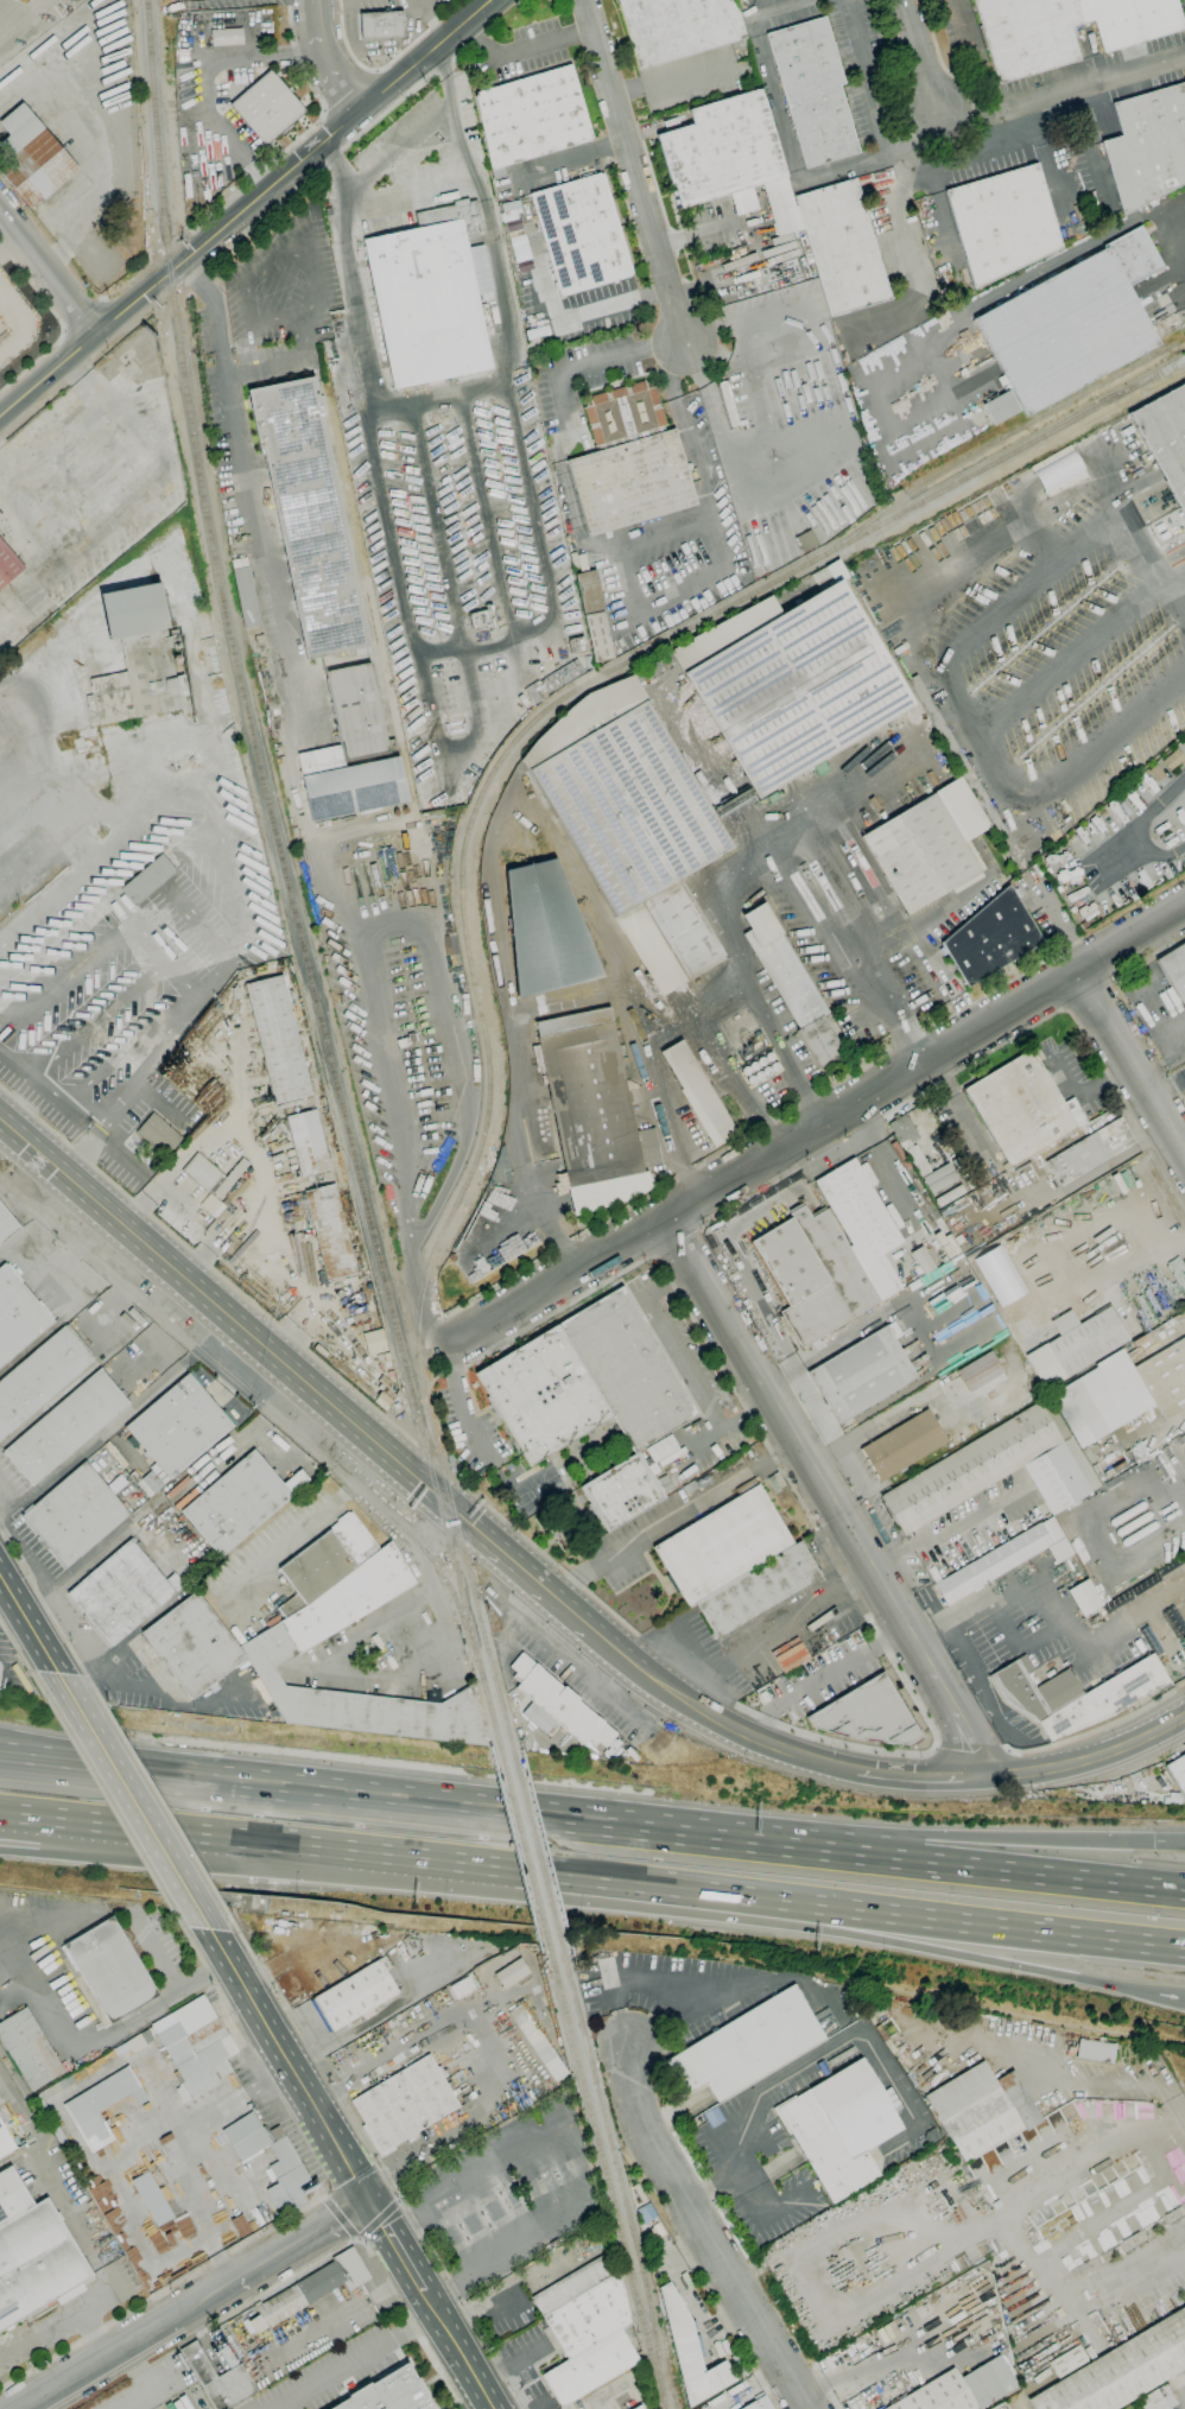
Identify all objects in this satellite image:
road: (760, 5)
road: (316, 17)
building: (381, 24)
building: (677, 27)
building: (1065, 28)
building: (227, 37)
road: (524, 51)
road: (918, 57)
road: (387, 63)
road: (336, 72)
road: (868, 74)
road: (207, 77)
road: (672, 77)
building: (812, 90)
road: (1062, 97)
road: (392, 107)
building: (267, 108)
building: (532, 116)
road: (786, 138)
road: (940, 140)
road: (399, 145)
road: (289, 146)
building: (1147, 146)
building: (722, 150)
building: (32, 157)
road: (332, 158)
road: (570, 158)
road: (963, 160)
road: (634, 169)
flagpole: (381, 183)
flagpole: (391, 183)
flagpole: (375, 186)
road: (406, 196)
road: (245, 209)
road: (484, 210)
road: (620, 222)
building: (1002, 222)
road: (254, 223)
building: (581, 234)
road: (894, 239)
road: (11, 245)
building: (841, 247)
road: (264, 270)
road: (47, 271)
road: (348, 274)
road: (1027, 283)
building: (430, 297)
road: (211, 300)
road: (731, 318)
road: (560, 319)
road: (59, 323)
building: (1072, 323)
road: (704, 329)
road: (747, 338)
road: (696, 342)
road: (591, 359)
road: (289, 363)
road: (439, 397)
road: (760, 398)
building: (728, 405)
building: (1000, 407)
road: (683, 426)
road: (80, 437)
building: (1166, 437)
road: (723, 443)
railway: (990, 443)
road: (563, 449)
building: (628, 463)
building: (1057, 470)
road: (530, 502)
building: (308, 515)
road: (486, 516)
road: (572, 518)
road: (438, 526)
road: (267, 533)
road: (389, 534)
building: (806, 540)
road: (1142, 551)
building: (8, 564)
road: (1179, 583)
building: (246, 594)
road: (1179, 595)
road: (625, 601)
building: (594, 615)
building: (723, 630)
road: (557, 641)
road: (486, 645)
building: (144, 647)
road: (1069, 659)
road: (474, 689)
building: (797, 689)
road: (968, 724)
building: (351, 753)
road: (455, 754)
building: (957, 756)
building: (1173, 760)
building: (1157, 773)
building: (632, 824)
road: (1117, 847)
building: (920, 854)
railway: (462, 866)
road: (798, 876)
building: (147, 880)
railway: (285, 880)
road: (404, 906)
road: (1054, 924)
building: (545, 931)
building: (991, 938)
road: (925, 944)
building: (1174, 969)
building: (791, 984)
road: (592, 990)
road: (1079, 1029)
building: (110, 1040)
building: (278, 1040)
road: (1180, 1041)
road: (910, 1044)
road: (1132, 1058)
road: (731, 1079)
road: (1168, 1083)
road: (1091, 1084)
road: (1174, 1090)
building: (701, 1091)
building: (588, 1096)
road: (665, 1109)
building: (1022, 1109)
road: (817, 1123)
building: (902, 1129)
road: (759, 1130)
road: (97, 1131)
building: (159, 1135)
building: (308, 1142)
road: (845, 1142)
building: (647, 1147)
building: (1090, 1152)
building: (918, 1161)
building: (202, 1173)
road: (891, 1175)
building: (982, 1175)
road: (154, 1191)
road: (1135, 1192)
building: (213, 1210)
building: (862, 1223)
building: (6, 1225)
building: (330, 1232)
road: (208, 1264)
building: (813, 1274)
road: (417, 1304)
building: (17, 1316)
road: (771, 1326)
road: (860, 1326)
road: (245, 1330)
building: (373, 1342)
building: (1075, 1345)
parking lot: (692, 1356)
building: (980, 1371)
road: (778, 1374)
building: (862, 1375)
building: (39, 1377)
building: (1165, 1378)
building: (587, 1381)
building: (1101, 1399)
road: (460, 1403)
road: (905, 1405)
railway: (266, 1409)
building: (178, 1426)
building: (65, 1427)
parking lot: (469, 1428)
building: (902, 1445)
building: (663, 1450)
building: (996, 1470)
road: (793, 1490)
park: (538, 1491)
building: (622, 1492)
road: (829, 1494)
building: (240, 1502)
building: (75, 1515)
road: (677, 1517)
road: (938, 1530)
building: (354, 1539)
road: (526, 1540)
building: (722, 1546)
road: (19, 1558)
building: (999, 1560)
building: (317, 1567)
building: (122, 1592)
building: (760, 1592)
building: (1083, 1597)
road: (978, 1604)
building: (291, 1606)
road: (577, 1617)
road: (28, 1624)
building: (297, 1633)
road: (62, 1634)
building: (1184, 1638)
building: (192, 1646)
road: (14, 1647)
building: (0, 1668)
road: (824, 1675)
road: (152, 1690)
building: (1075, 1694)
building: (559, 1704)
building: (867, 1714)
road: (1097, 1729)
road: (1142, 1737)
road: (760, 1739)
road: (936, 1749)
road: (972, 1750)
road: (1043, 1769)
building: (1178, 1773)
road: (921, 1777)
road: (104, 1798)
road: (133, 1800)
road: (160, 1803)
road: (433, 1808)
road: (1008, 1837)
road: (258, 1843)
traffic signals: (1157, 1845)
road: (1171, 1845)
road: (45, 1849)
railway: (524, 1850)
railway: (537, 1851)
road: (1026, 1874)
road: (634, 1884)
road: (785, 1913)
road: (968, 1922)
road: (1002, 1963)
building: (110, 1970)
building: (512, 1973)
road: (170, 1978)
road: (632, 1983)
building: (462, 1988)
building: (356, 1995)
building: (139, 2041)
building: (539, 2042)
building: (195, 2046)
building: (748, 2046)
building: (30, 2048)
building: (1096, 2050)
road: (254, 2052)
road: (805, 2059)
road: (290, 2065)
road: (375, 2067)
road: (1047, 2077)
road: (243, 2091)
building: (102, 2104)
building: (404, 2104)
road: (1180, 2105)
building: (981, 2109)
road: (177, 2118)
road: (470, 2124)
building: (52, 2125)
building: (839, 2128)
building: (246, 2136)
building: (5, 2142)
parking lot: (759, 2155)
road: (576, 2162)
road: (380, 2170)
building: (286, 2173)
railway: (619, 2177)
railway: (607, 2179)
gas station: (508, 2192)
building: (151, 2198)
traffic signals: (372, 2201)
road: (197, 2206)
road: (762, 2213)
road: (1012, 2226)
road: (704, 2232)
road: (304, 2240)
road: (398, 2246)
building: (32, 2252)
road: (299, 2272)
road: (233, 2283)
building: (575, 2284)
building: (315, 2287)
road: (508, 2291)
road: (340, 2316)
building: (589, 2316)
road: (727, 2324)
road: (75, 2345)
road: (125, 2347)
road: (458, 2350)
building: (690, 2352)
road: (355, 2359)
building: (1067, 2362)
building: (590, 2367)
building: (1122, 2370)
building: (218, 2379)
road: (151, 2384)
building: (961, 2389)
building: (389, 2392)
railway: (672, 2392)
road: (167, 2395)
building: (1158, 2398)
building: (758, 2404)
road: (34, 2405)
building: (638, 2407)
railway: (664, 2407)
building: (1005, 2407)

